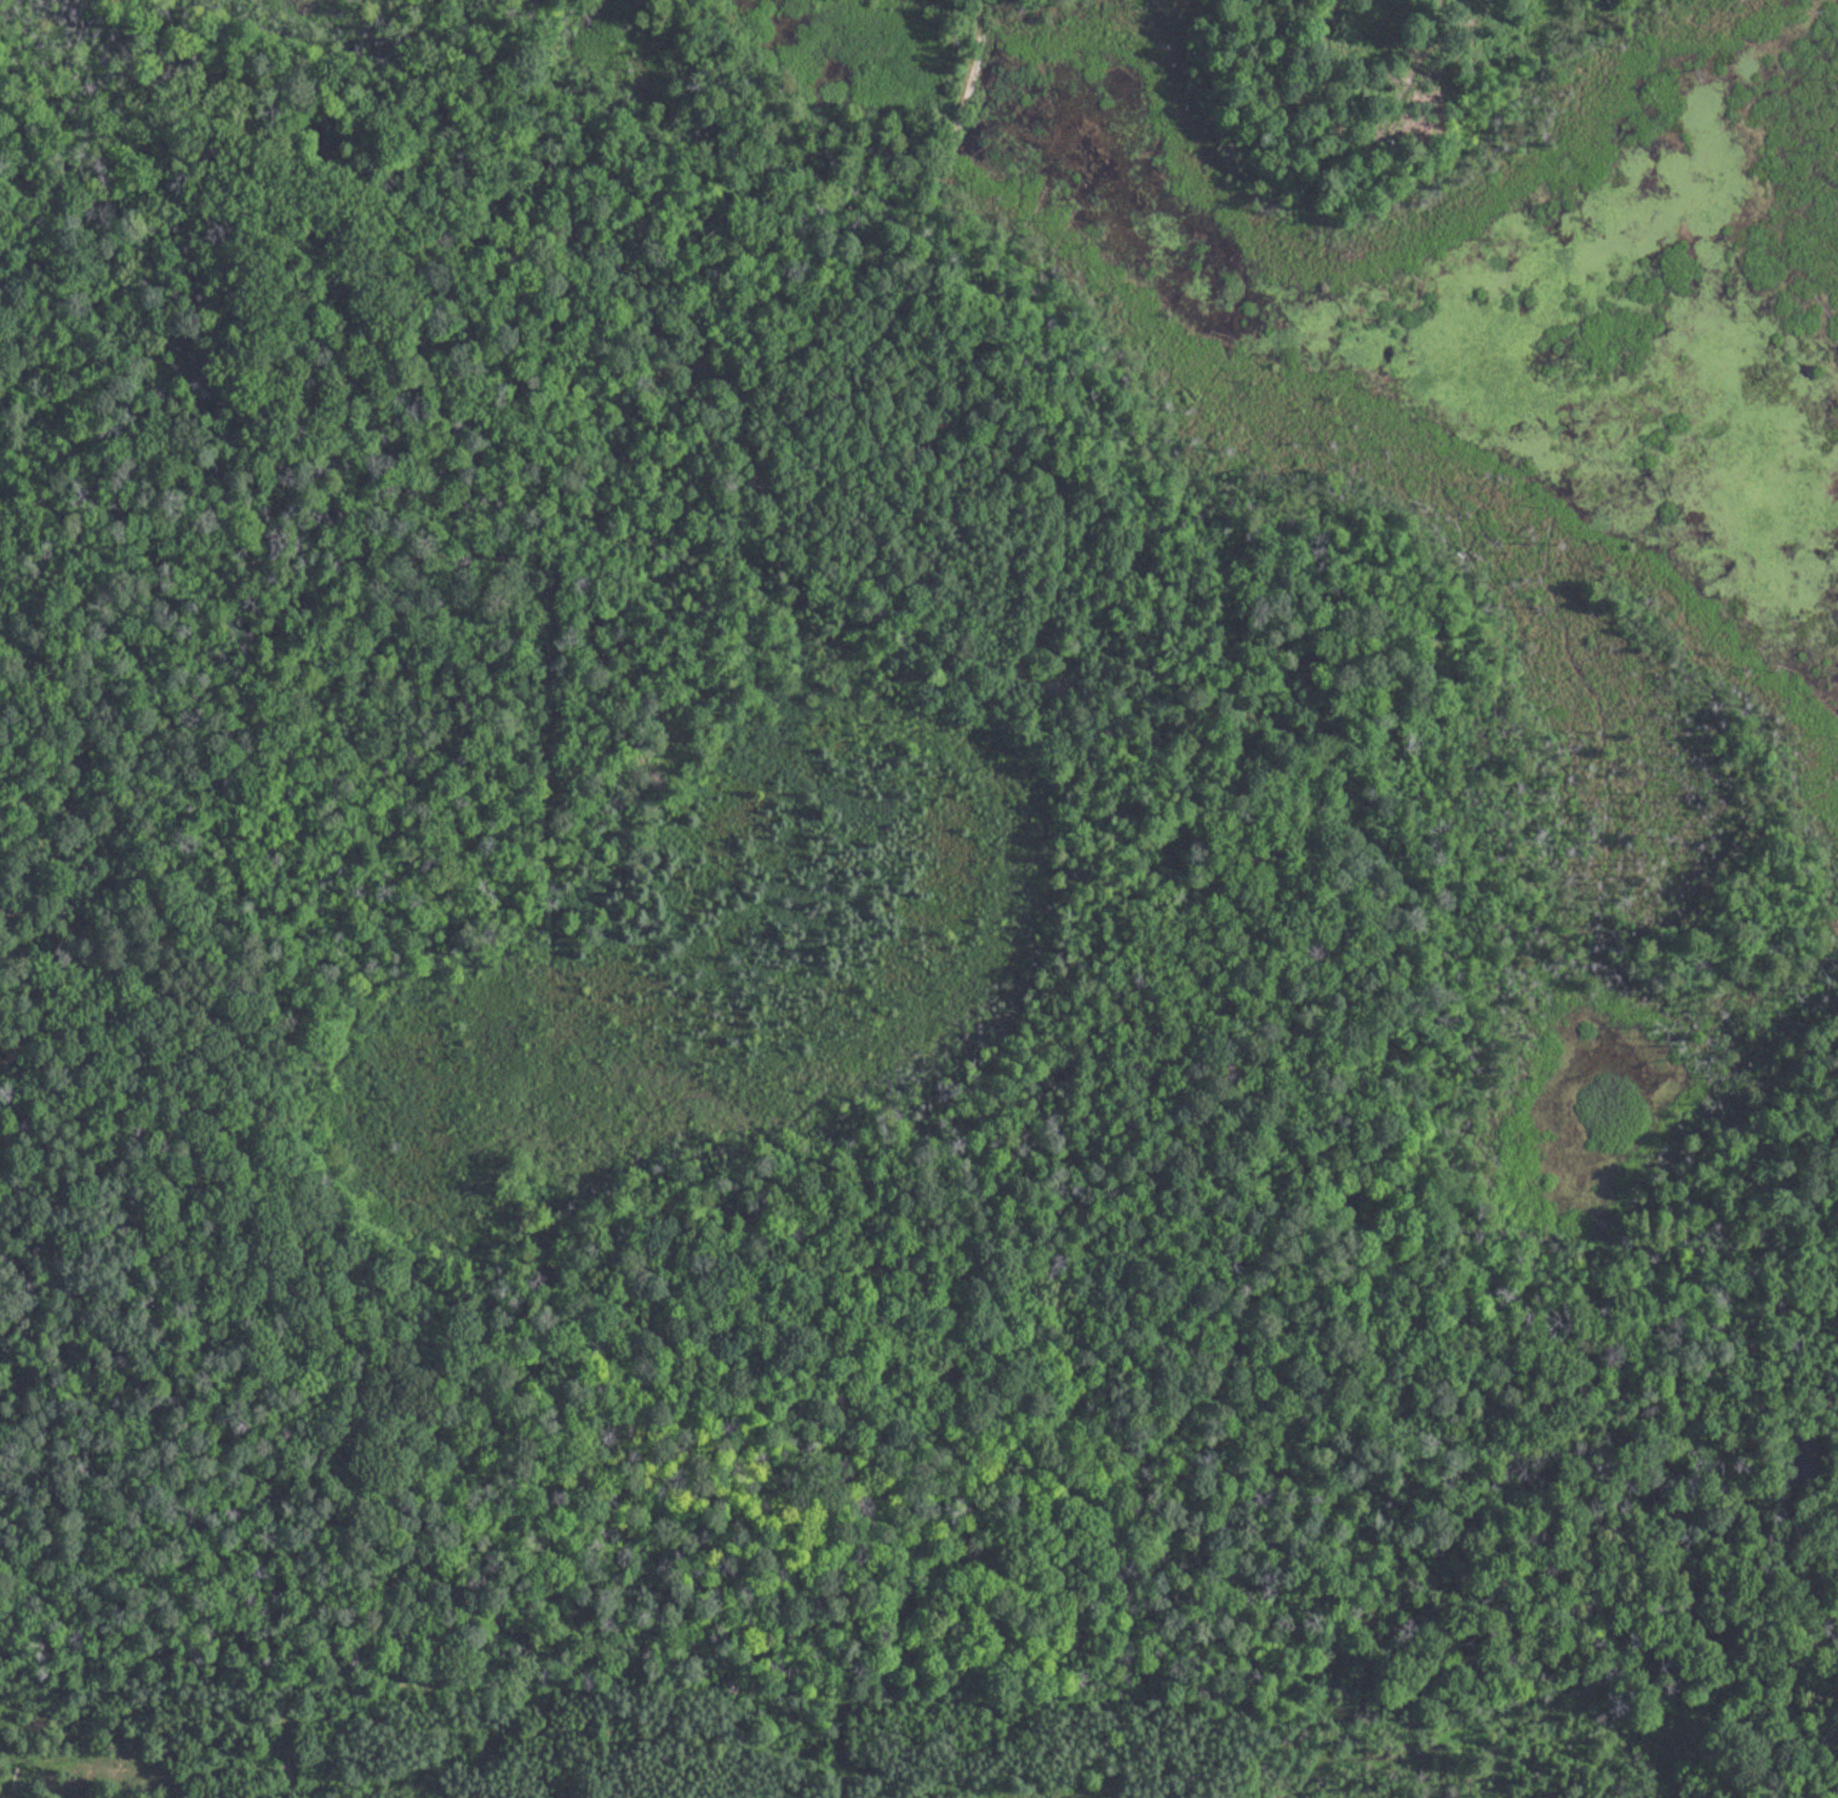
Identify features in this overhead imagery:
road: (151, 995)

